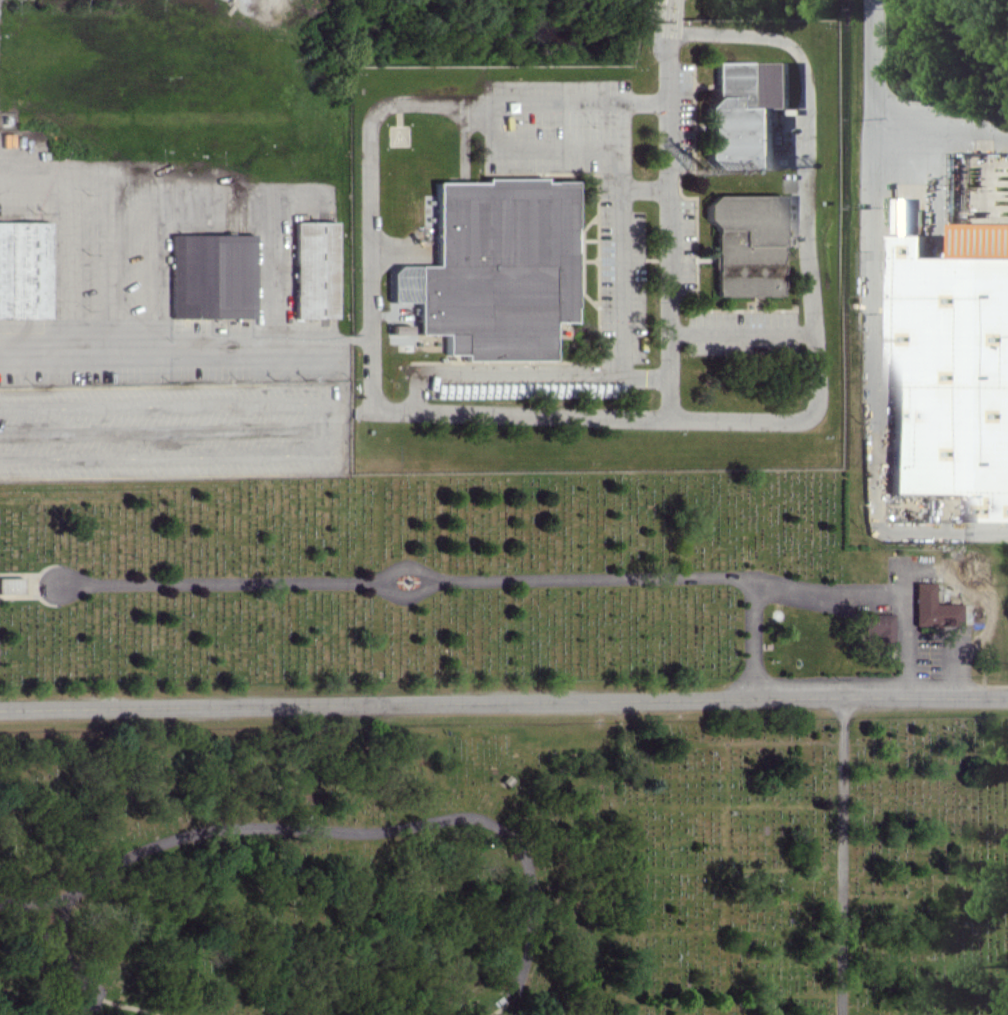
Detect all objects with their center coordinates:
road: (670, 10)
building: (744, 112)
road: (940, 137)
road: (535, 146)
road: (643, 186)
road: (806, 238)
road: (621, 239)
building: (744, 243)
road: (395, 248)
building: (497, 267)
building: (23, 269)
building: (312, 269)
building: (210, 275)
road: (873, 328)
building: (398, 329)
road: (738, 332)
road: (183, 346)
building: (951, 368)
road: (523, 376)
road: (418, 410)
road: (405, 565)
road: (651, 579)
building: (10, 584)
road: (220, 584)
road: (406, 595)
road: (875, 597)
building: (930, 607)
building: (876, 628)
park: (604, 688)
road: (503, 701)
road: (343, 831)
road: (841, 856)
park: (309, 870)
road: (38, 923)
road: (66, 957)
road: (502, 1004)
road: (125, 1006)

